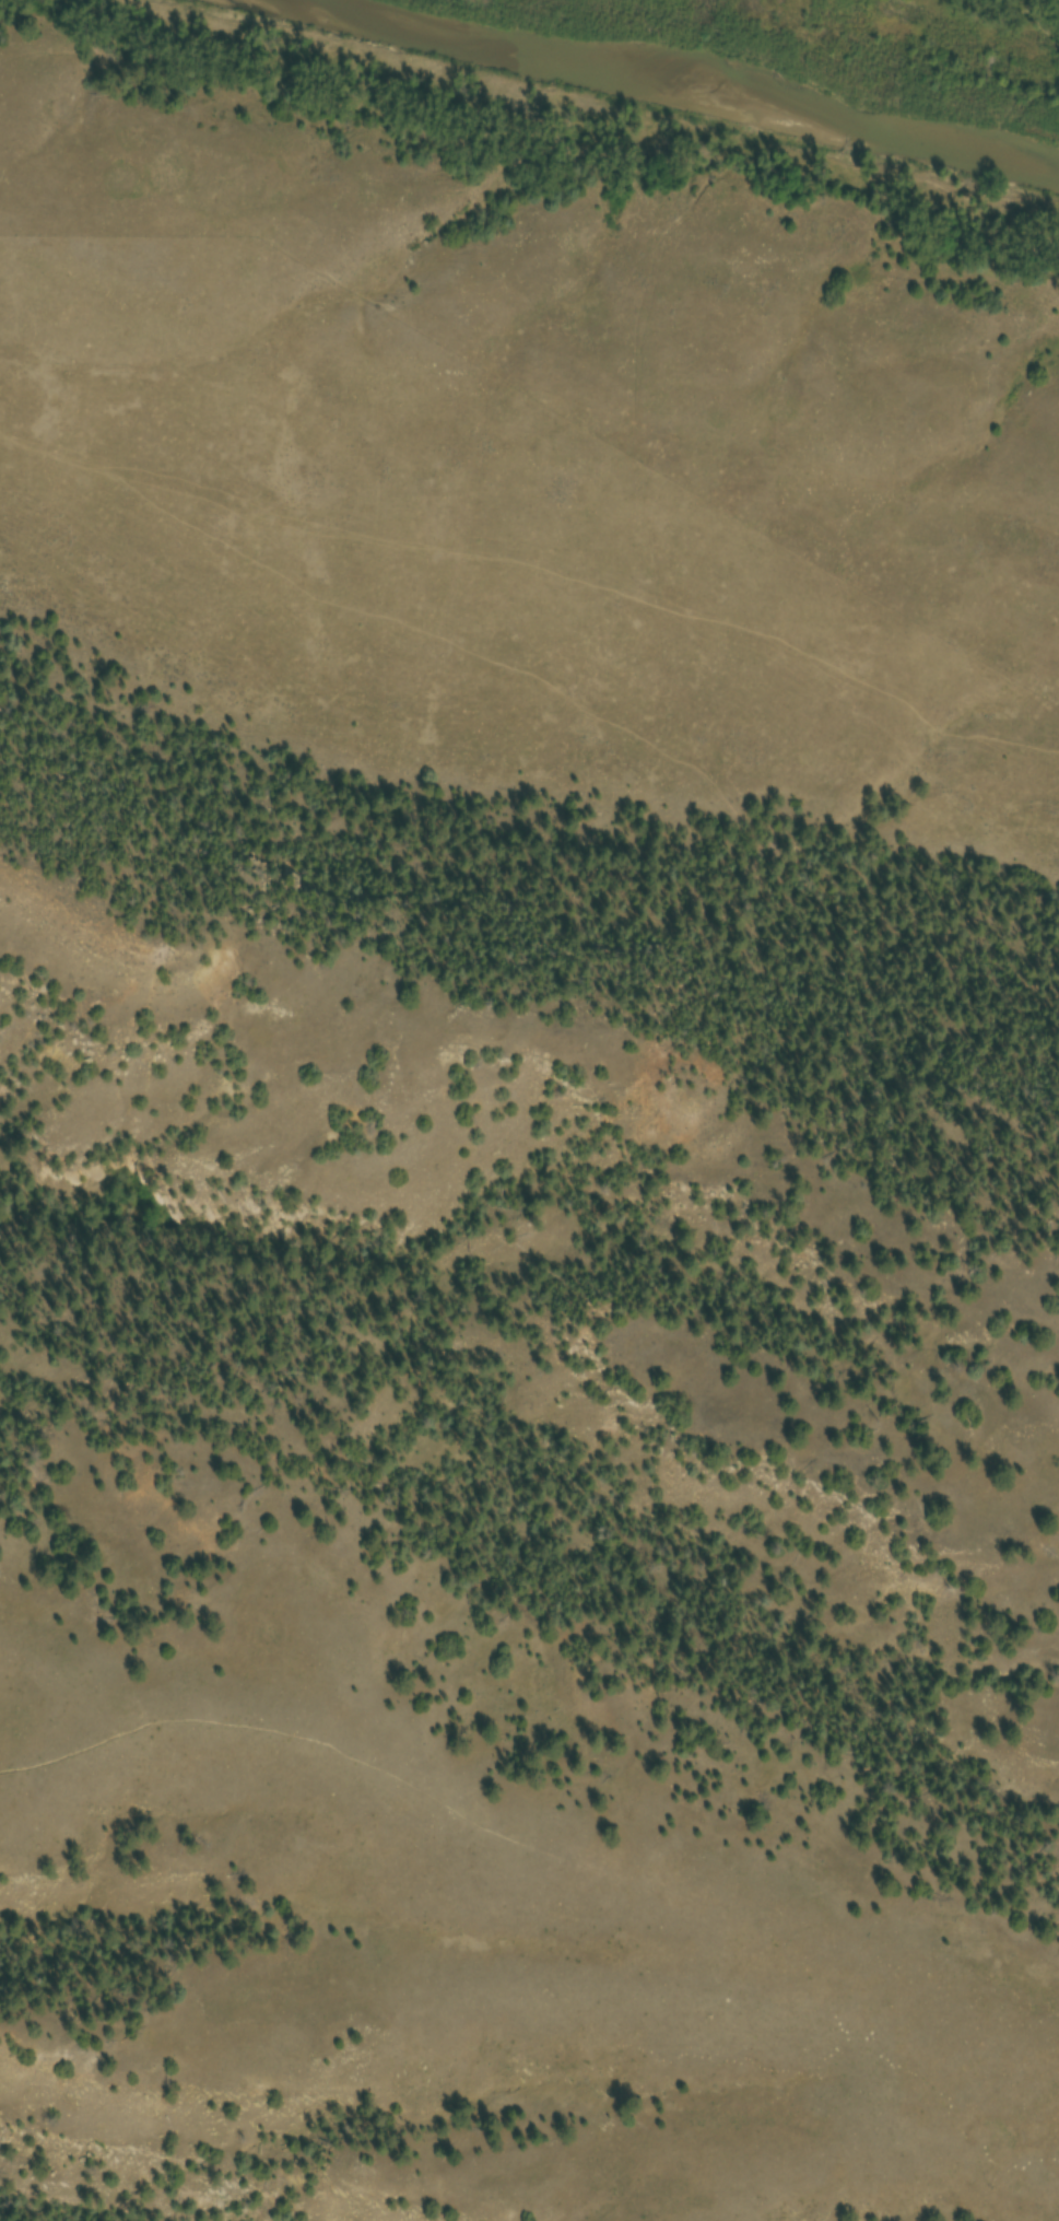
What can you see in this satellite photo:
river: (886, 56)

